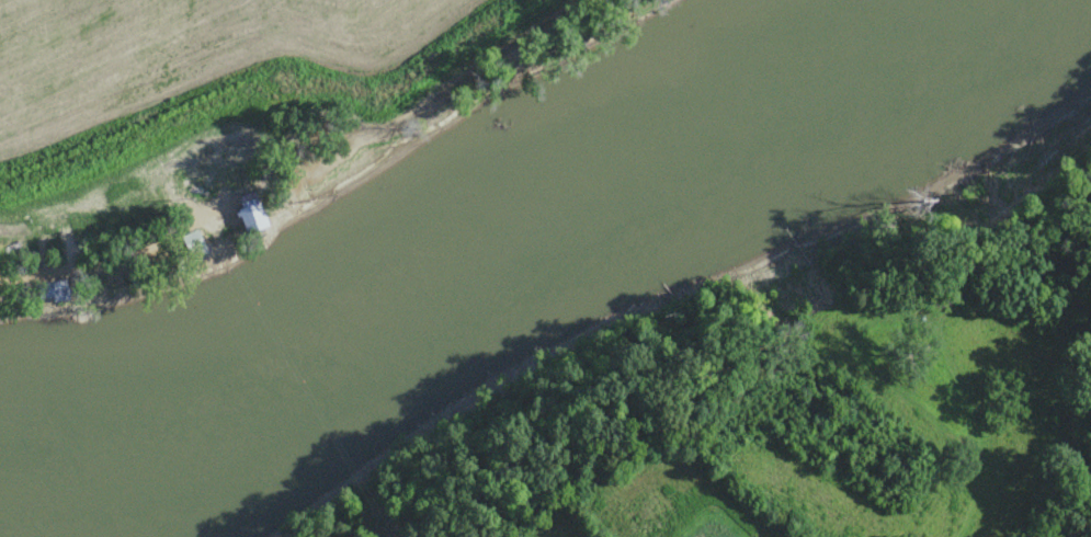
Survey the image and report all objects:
building: (245, 214)
building: (185, 243)
road: (111, 265)
river: (518, 284)
building: (43, 290)
river: (116, 501)

